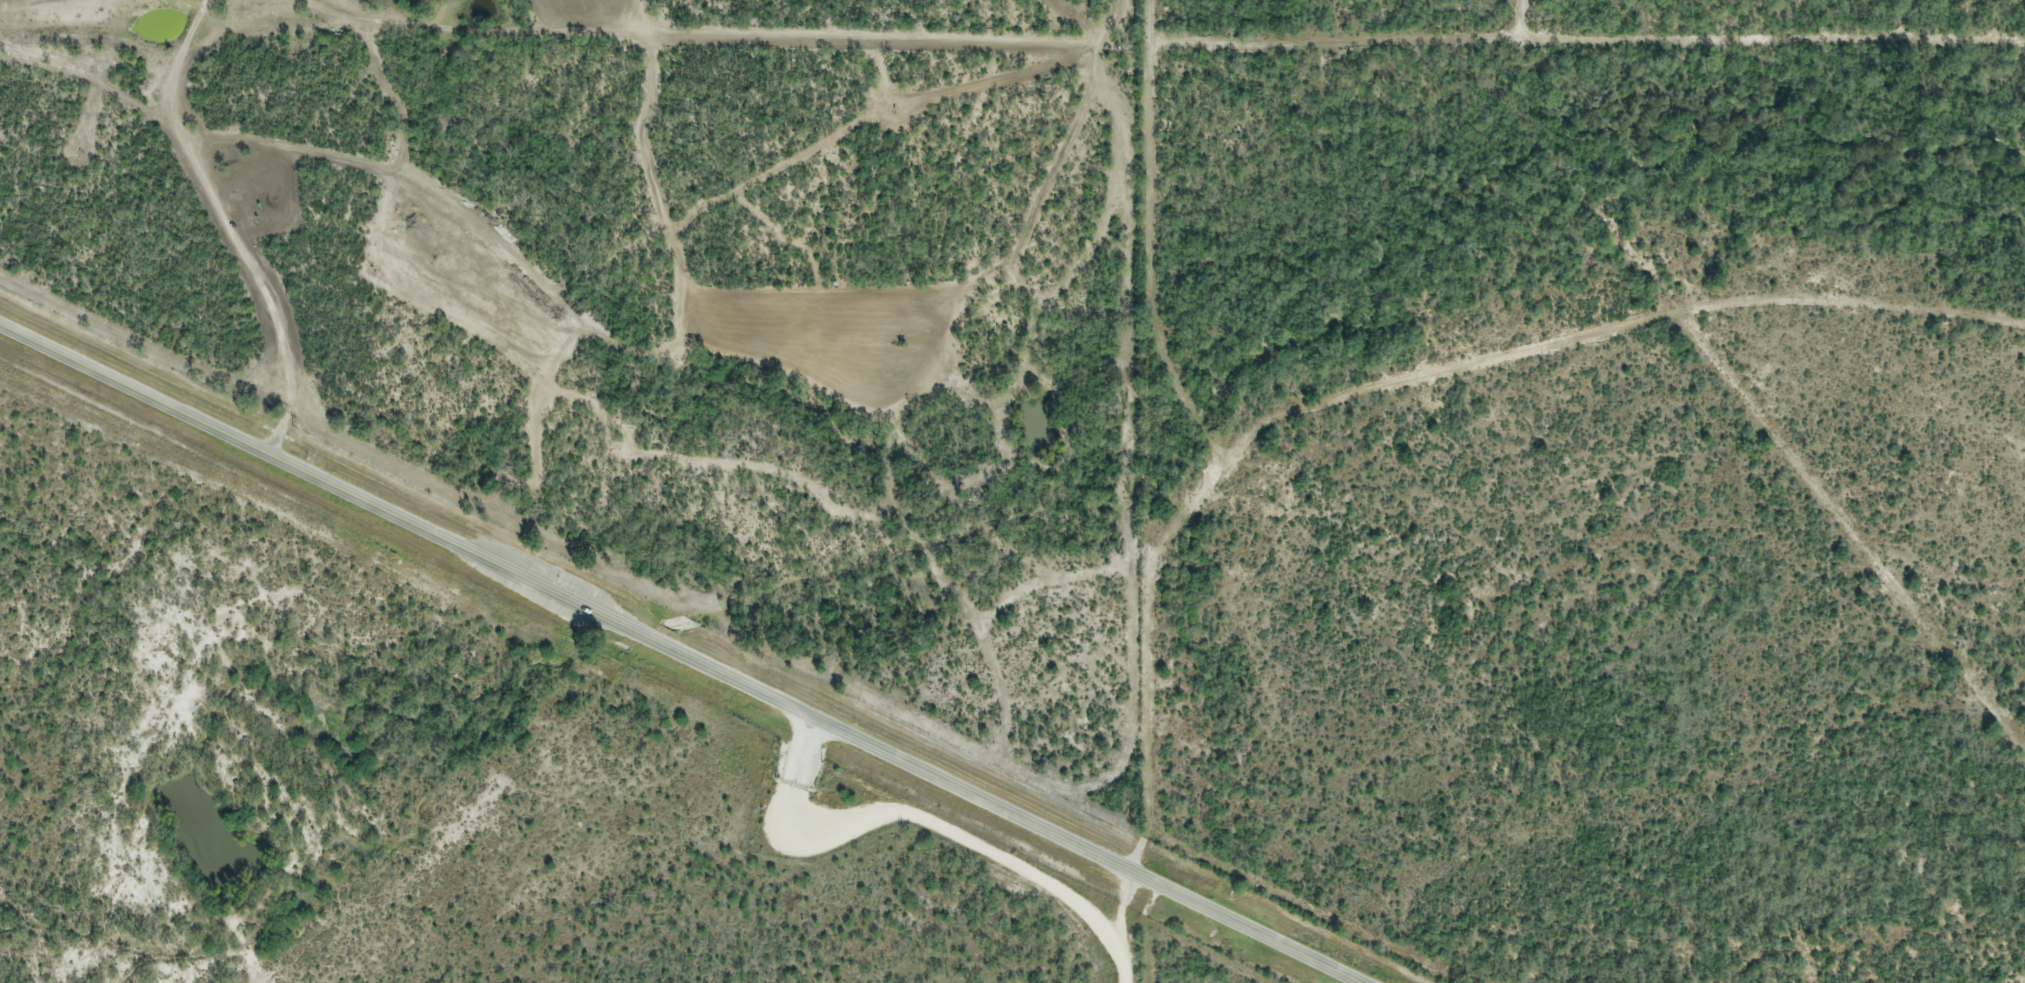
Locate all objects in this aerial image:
road: (225, 228)
road: (681, 661)
road: (928, 823)

